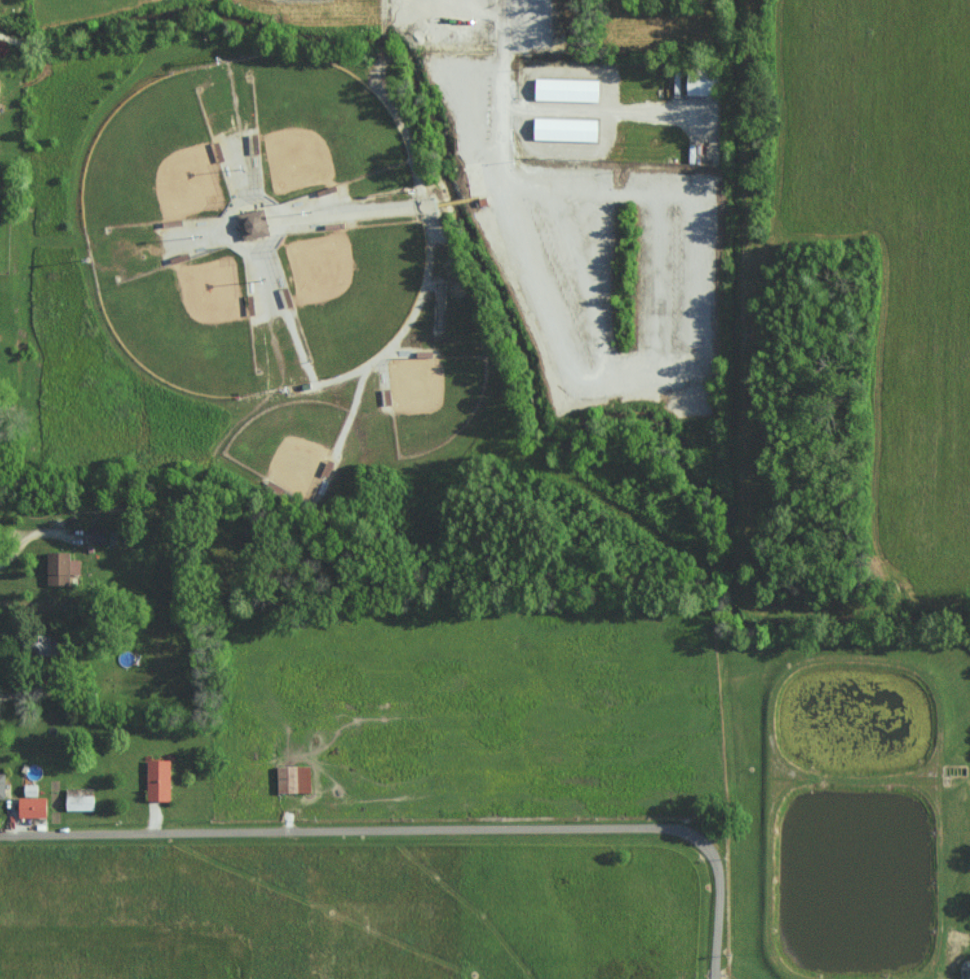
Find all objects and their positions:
building: (0, 68)
building: (701, 81)
road: (502, 82)
building: (567, 90)
park: (319, 127)
building: (565, 131)
park: (155, 160)
building: (252, 225)
parking lot: (595, 255)
park: (257, 280)
park: (353, 289)
park: (189, 324)
park: (433, 399)
park: (290, 445)
building: (98, 534)
road: (25, 536)
building: (63, 567)
road: (21, 685)
building: (160, 779)
building: (291, 779)
building: (3, 785)
building: (82, 801)
building: (34, 803)
road: (361, 836)
road: (719, 908)
building: (965, 973)

